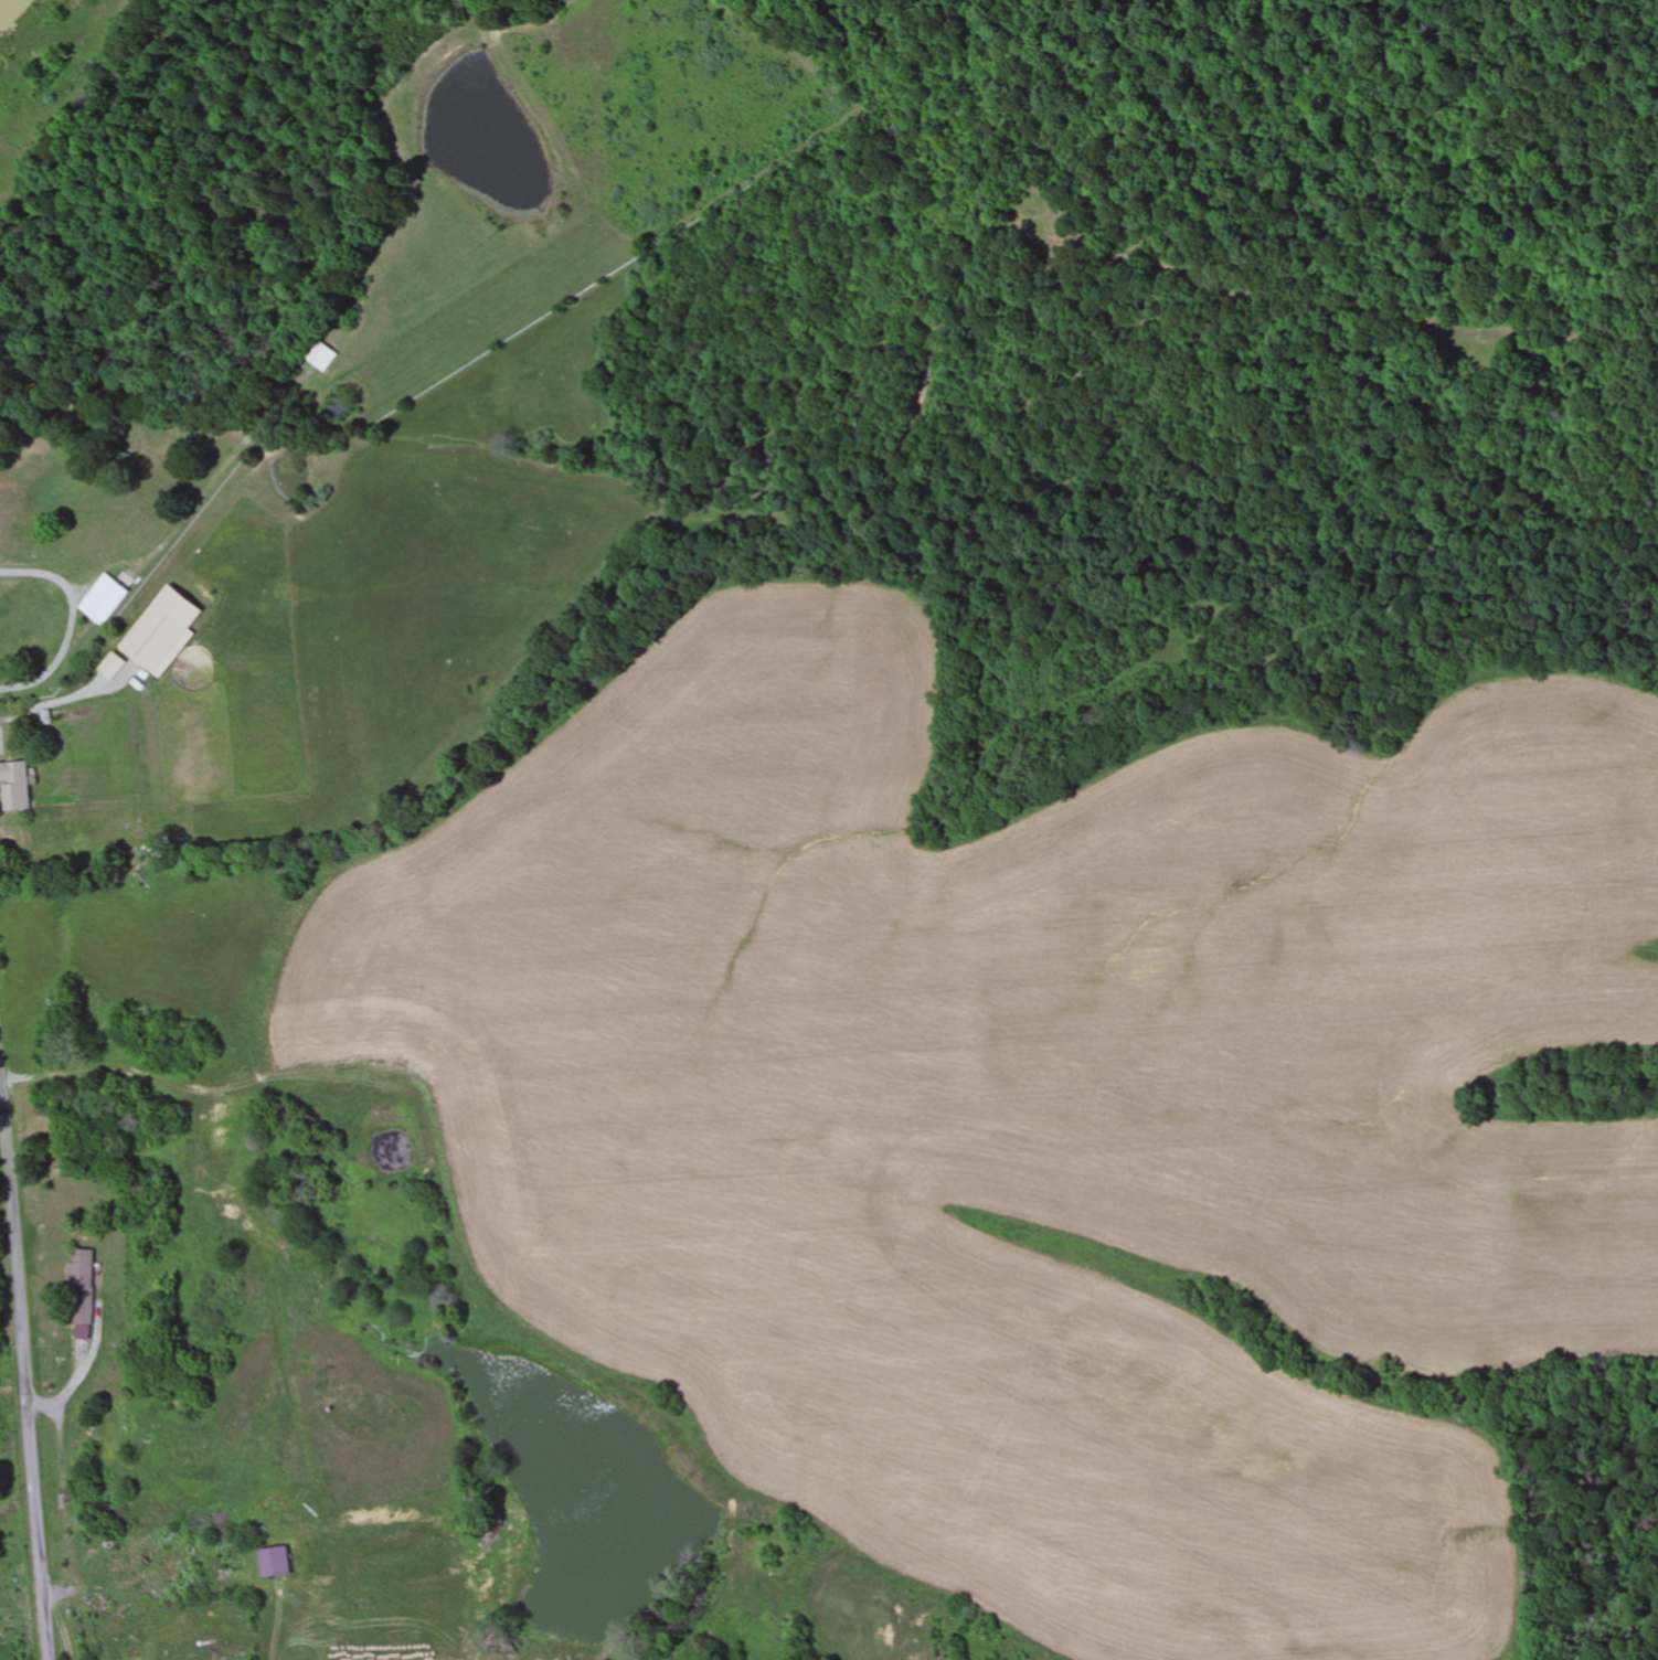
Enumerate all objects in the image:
building: (321, 358)
building: (158, 640)
building: (15, 786)
building: (83, 1288)
road: (23, 1383)
building: (141, 1568)

